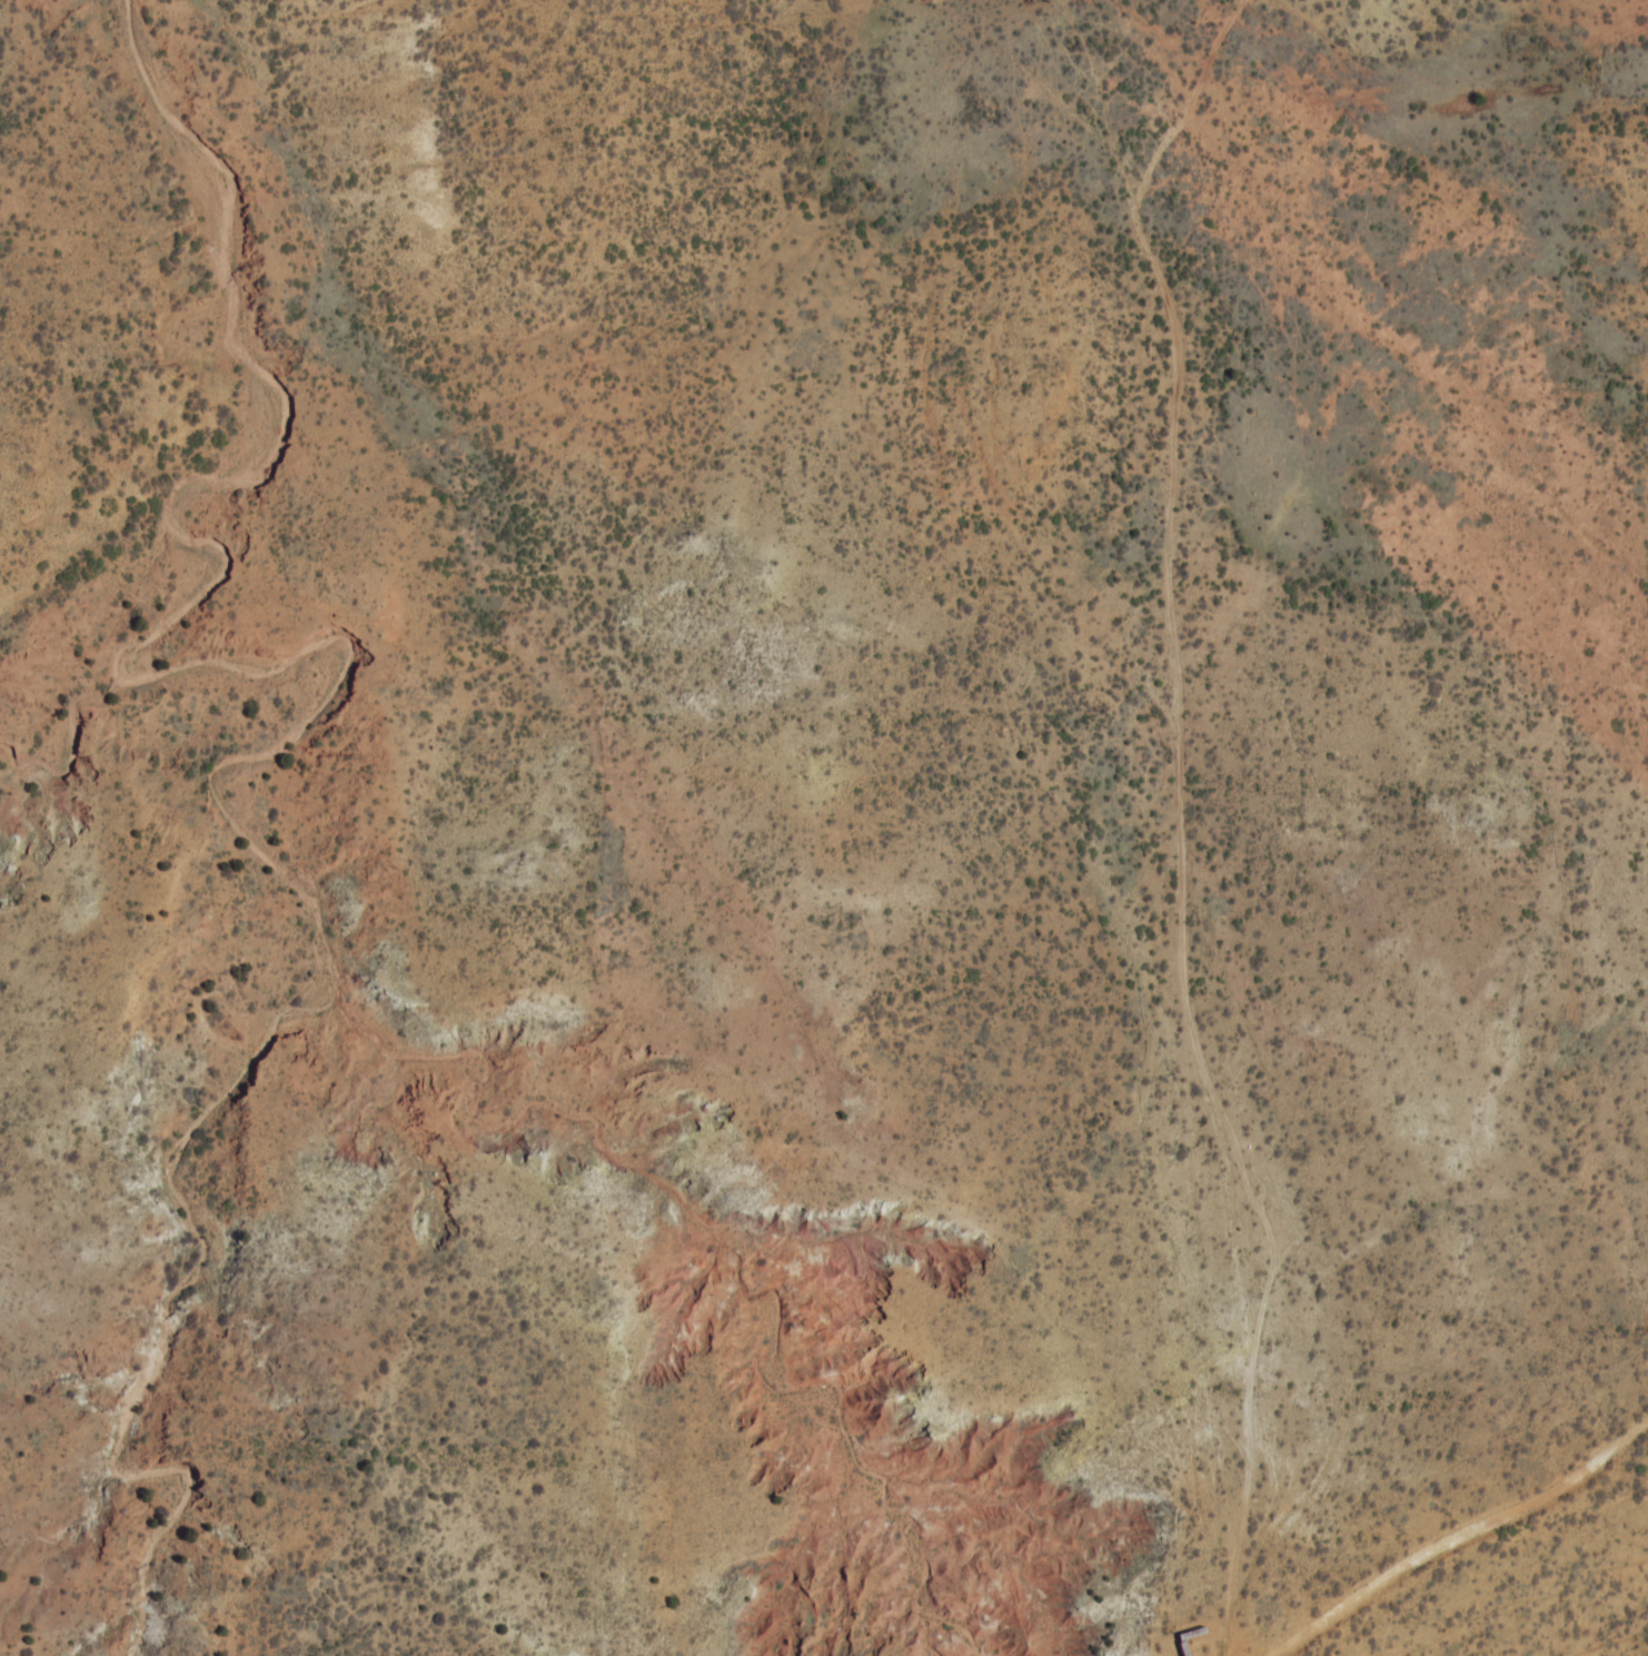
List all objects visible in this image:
road: (1431, 1508)
building: (1183, 1638)

